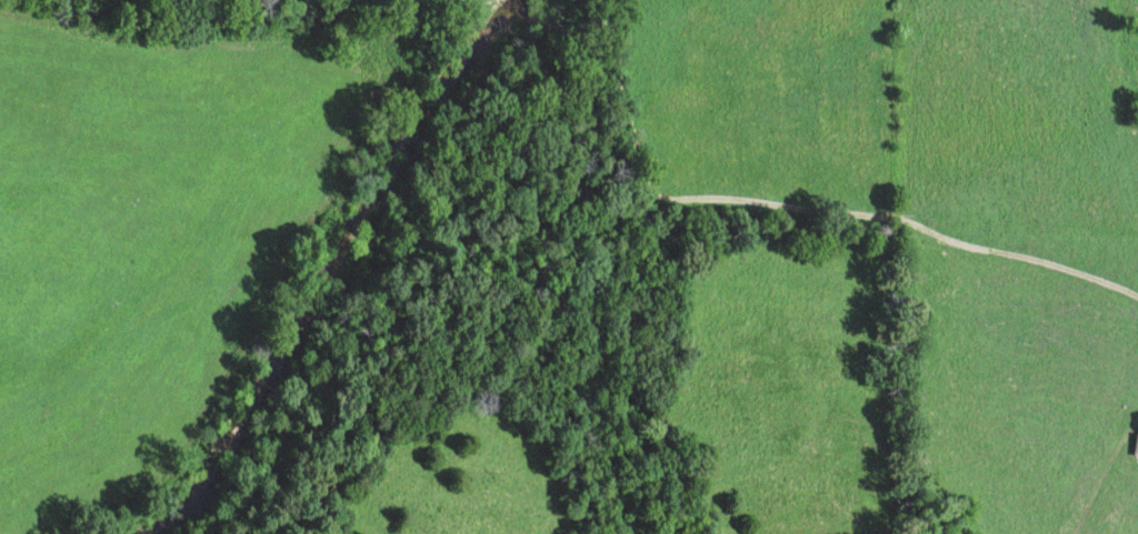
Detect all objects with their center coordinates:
road: (568, 219)
building: (1135, 447)

